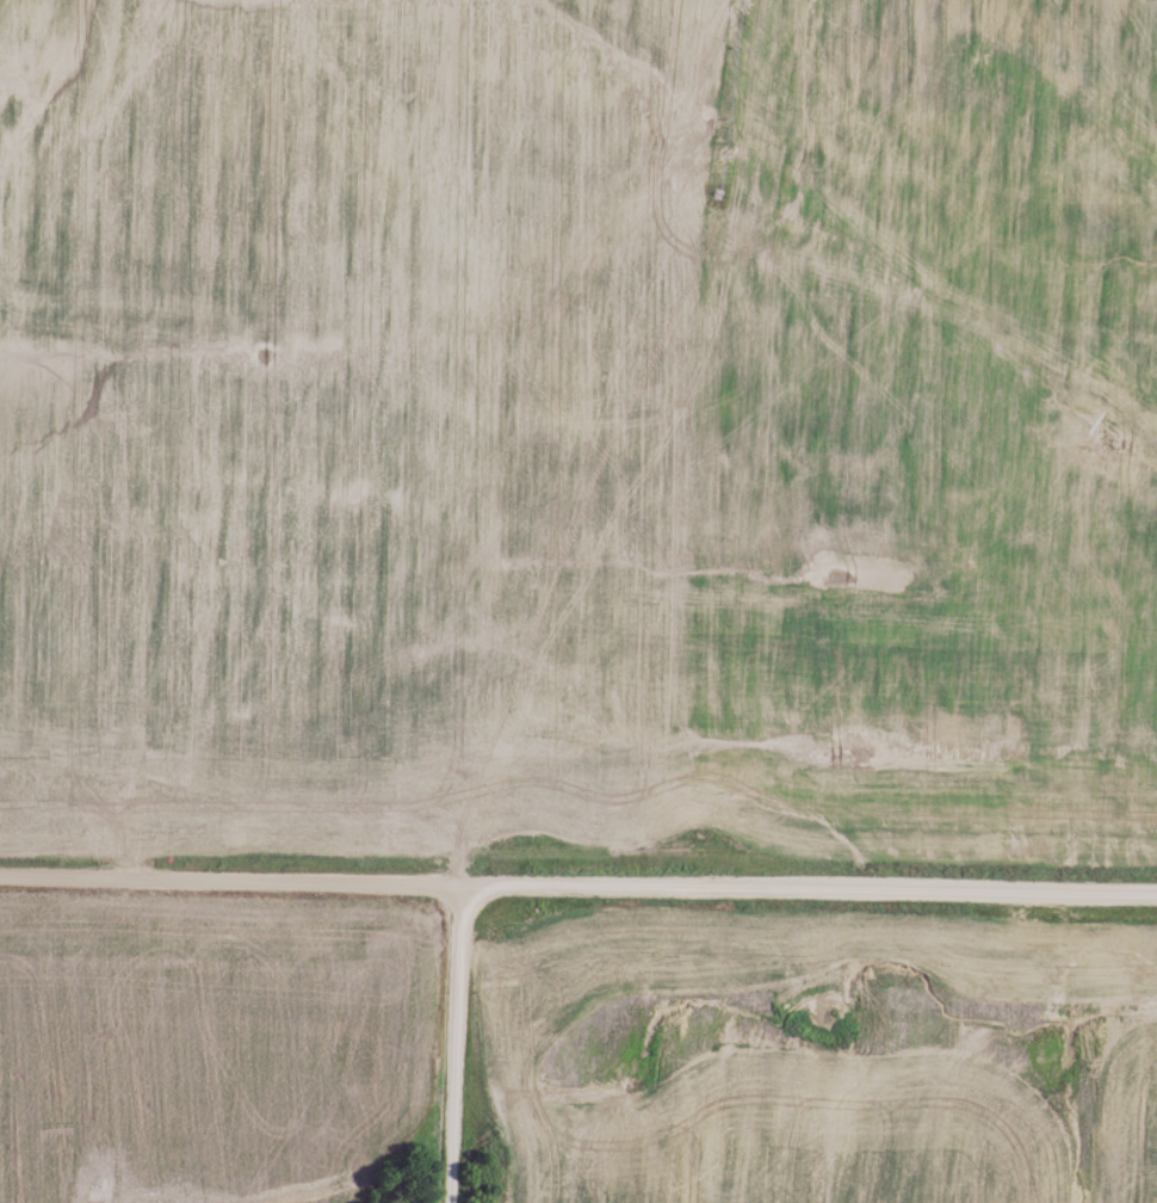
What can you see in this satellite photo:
road: (577, 889)
road: (463, 1045)

